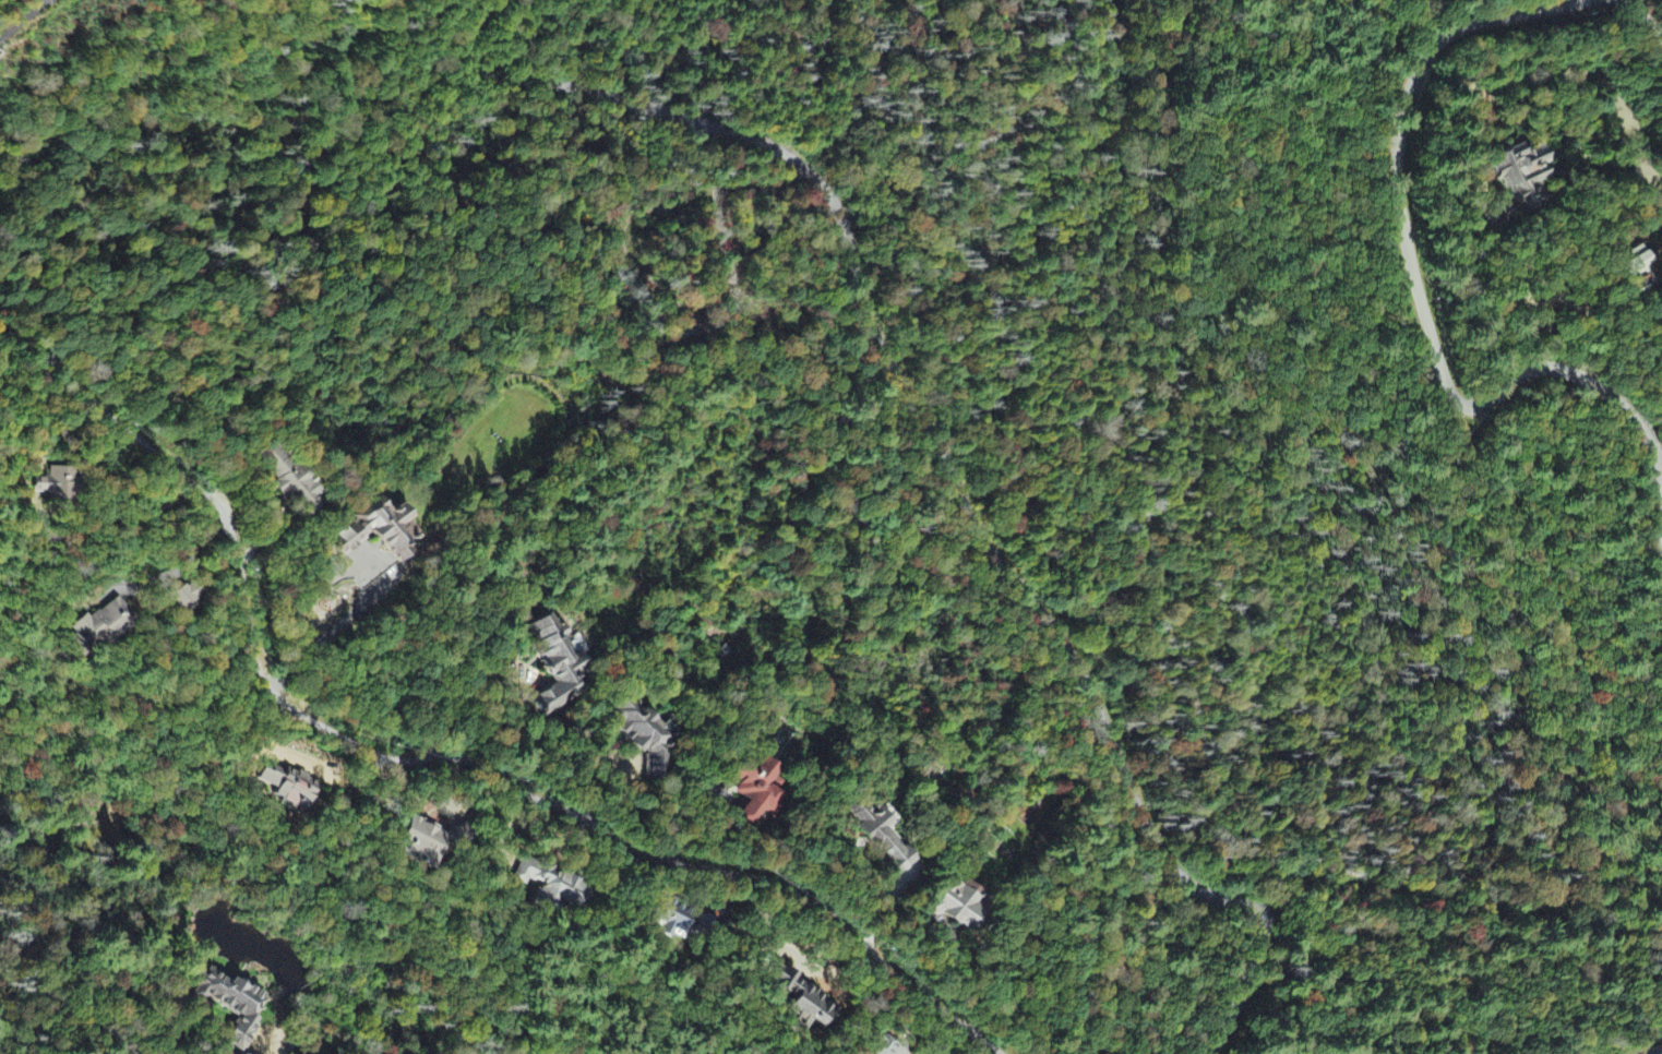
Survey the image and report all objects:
road: (1640, 14)
road: (22, 21)
building: (1518, 171)
building: (1635, 265)
road: (1418, 288)
road: (934, 444)
building: (289, 481)
building: (55, 486)
building: (376, 535)
building: (103, 618)
building: (554, 664)
building: (649, 740)
road: (431, 758)
building: (287, 788)
building: (762, 793)
building: (877, 838)
building: (430, 842)
building: (549, 888)
building: (954, 903)
building: (669, 921)
building: (228, 1005)
building: (797, 1005)
building: (882, 1046)

